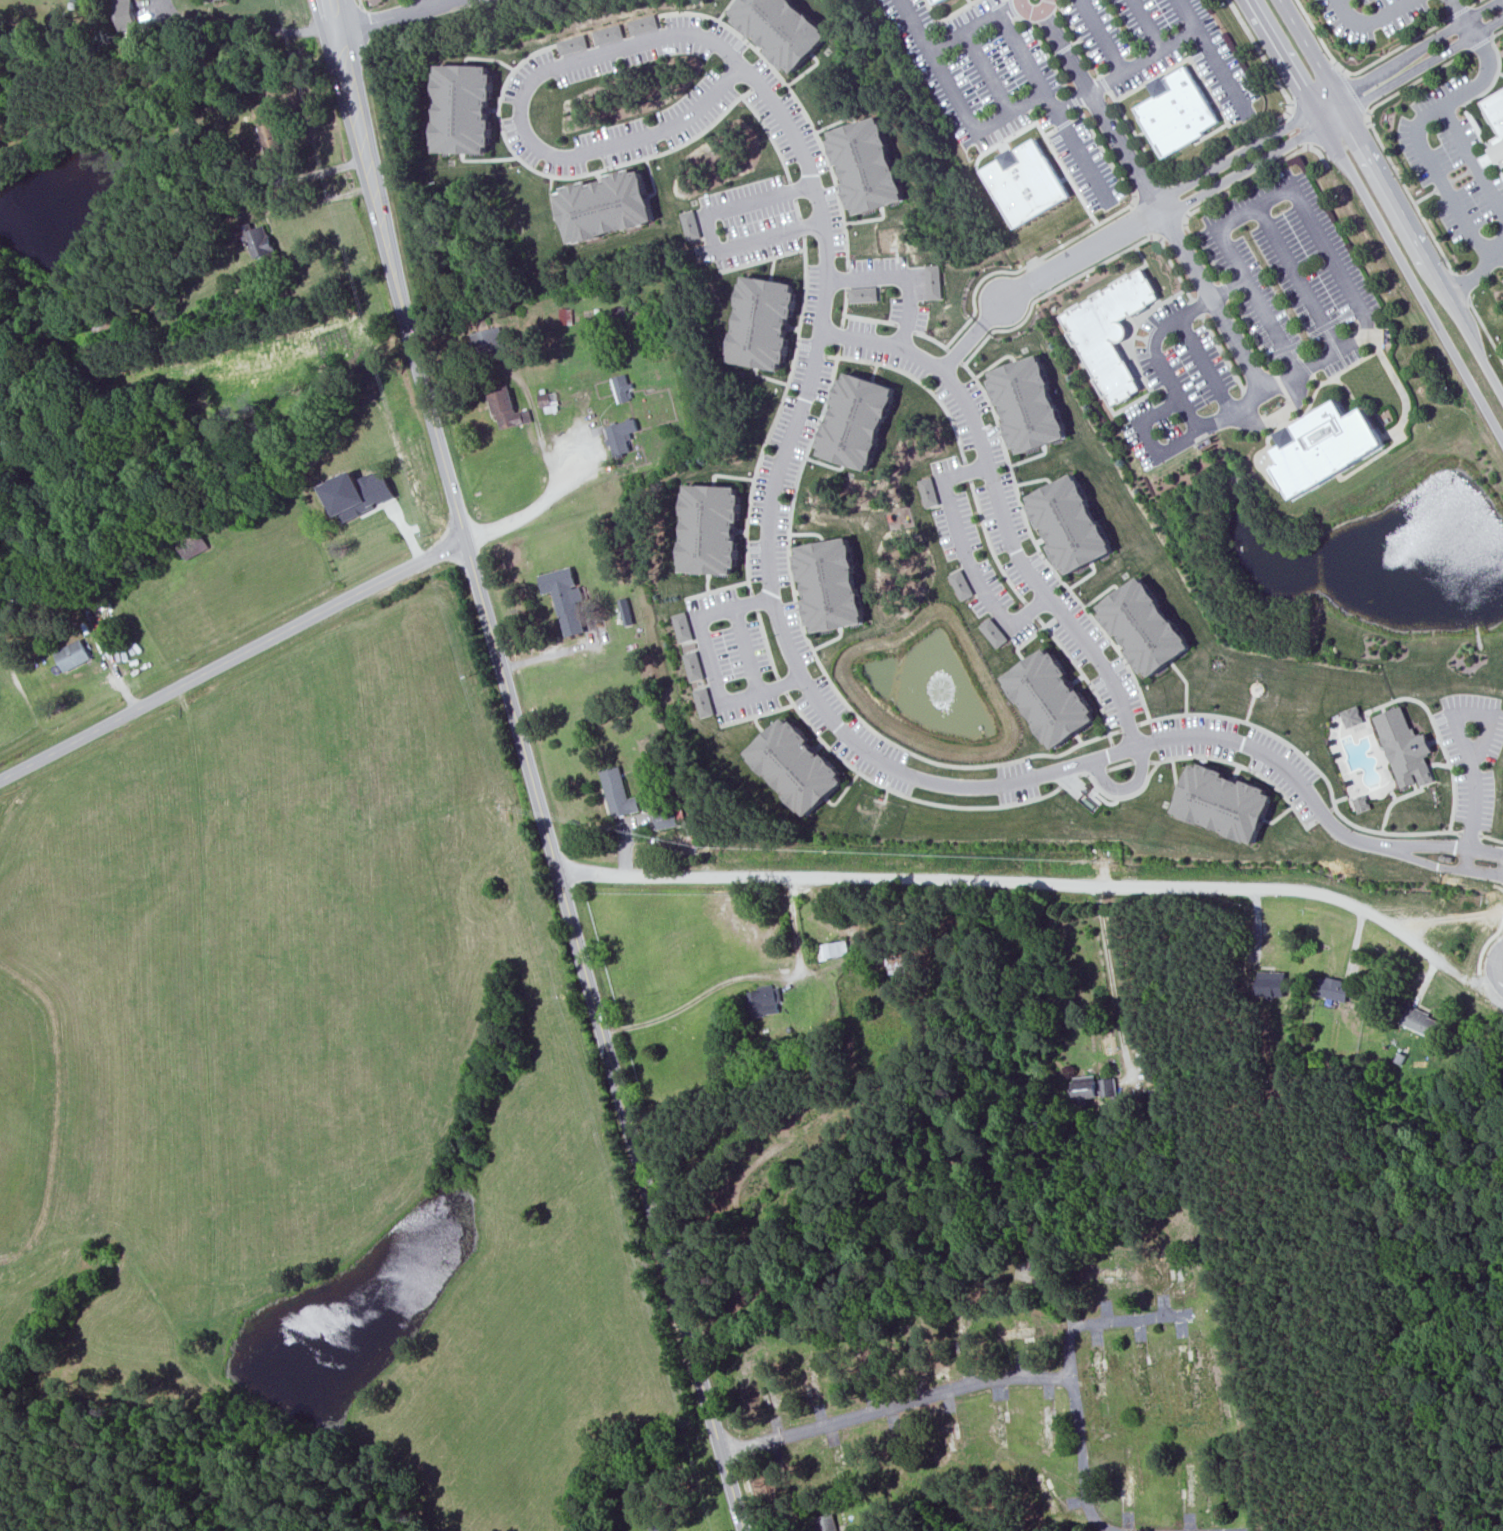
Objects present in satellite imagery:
parking lot: (406, 0)
building: (210, 1)
building: (943, 1)
road: (1336, 2)
road: (426, 3)
road: (361, 4)
road: (1469, 5)
road: (1009, 7)
road: (1458, 11)
building: (125, 13)
road: (403, 13)
road: (1035, 13)
road: (1461, 15)
parking lot: (1372, 16)
road: (1001, 18)
road: (1371, 22)
building: (641, 24)
road: (1148, 25)
road: (239, 29)
building: (780, 29)
road: (340, 30)
building: (606, 34)
road: (1104, 36)
building: (571, 44)
road: (629, 48)
road: (1486, 58)
road: (1420, 59)
road: (1280, 60)
road: (1141, 62)
parking lot: (1063, 68)
road: (1358, 69)
road: (1222, 71)
road: (988, 72)
road: (1415, 80)
road: (1310, 84)
road: (1349, 91)
road: (798, 102)
building: (462, 108)
road: (1101, 111)
building: (1179, 111)
road: (998, 119)
building: (1496, 120)
road: (1039, 123)
building: (269, 128)
road: (1296, 128)
road: (1336, 133)
road: (770, 136)
road: (1235, 144)
road: (1472, 160)
building: (866, 165)
road: (1430, 168)
parking lot: (1454, 168)
road: (572, 176)
road: (1377, 178)
road: (366, 181)
road: (383, 181)
building: (1026, 183)
road: (1197, 188)
road: (792, 191)
road: (1149, 191)
road: (1224, 192)
road: (1408, 193)
road: (1425, 196)
building: (604, 205)
road: (797, 209)
building: (690, 225)
road: (801, 227)
road: (1169, 228)
road: (708, 230)
building: (259, 240)
road: (761, 261)
road: (1029, 263)
road: (1477, 273)
road: (1081, 274)
road: (1411, 277)
road: (846, 279)
road: (902, 279)
road: (1297, 280)
building: (934, 282)
road: (1461, 286)
road: (1018, 294)
building: (863, 295)
road: (1211, 303)
road: (845, 308)
building: (619, 312)
building: (566, 316)
road: (870, 319)
parking lot: (1252, 320)
building: (762, 323)
road: (1486, 327)
building: (101, 328)
road: (905, 328)
road: (1369, 332)
building: (1109, 333)
road: (840, 336)
road: (932, 339)
building: (489, 342)
road: (883, 347)
road: (962, 347)
road: (955, 356)
road: (1204, 365)
road: (1492, 374)
road: (918, 380)
building: (623, 388)
road: (1179, 399)
building: (549, 401)
road: (1249, 403)
building: (1028, 405)
building: (507, 408)
road: (776, 415)
building: (857, 421)
building: (621, 436)
building: (1328, 446)
road: (967, 472)
building: (929, 492)
building: (357, 494)
road: (534, 510)
building: (1072, 524)
building: (709, 529)
building: (194, 545)
road: (990, 546)
road: (1038, 550)
road: (967, 555)
road: (1026, 564)
building: (832, 584)
building: (961, 584)
road: (718, 590)
building: (566, 599)
road: (753, 602)
road: (1031, 610)
building: (626, 612)
building: (684, 626)
building: (1148, 626)
building: (994, 632)
road: (767, 644)
road: (747, 650)
building: (73, 655)
road: (232, 658)
road: (711, 663)
building: (695, 665)
road: (823, 671)
road: (1083, 674)
road: (782, 685)
road: (810, 687)
building: (1052, 697)
building: (705, 702)
building: (1353, 717)
road: (1130, 727)
road: (1487, 740)
building: (1406, 748)
road: (1271, 760)
road: (1142, 761)
road: (1310, 763)
building: (796, 766)
road: (1121, 766)
road: (1245, 768)
road: (1097, 773)
road: (1070, 781)
road: (1127, 787)
building: (618, 794)
road: (905, 796)
road: (1122, 797)
building: (1227, 802)
building: (1362, 804)
building: (666, 818)
road: (1471, 833)
road: (1492, 838)
road: (1412, 847)
road: (1458, 848)
road: (1487, 850)
road: (1409, 857)
road: (1469, 859)
road: (1472, 871)
road: (1027, 883)
road: (1499, 888)
road: (582, 946)
road: (1485, 946)
building: (833, 950)
road: (1491, 968)
road: (1112, 981)
building: (1272, 984)
building: (1333, 988)
building: (765, 1002)
building: (1421, 1021)
building: (1095, 1086)
building: (827, 1523)
building: (663, 1528)

